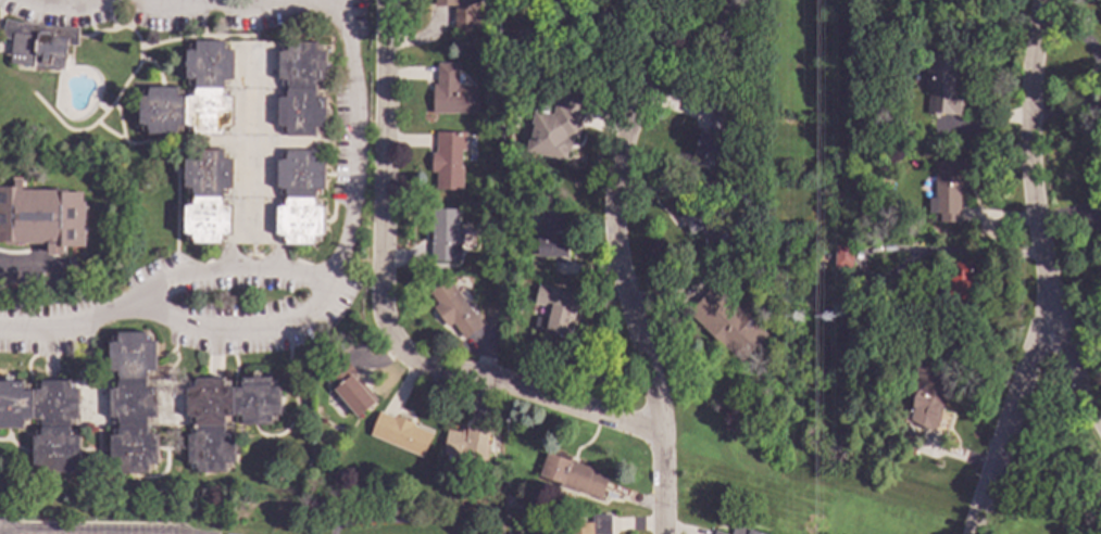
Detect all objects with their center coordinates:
road: (271, 2)
road: (66, 4)
building: (555, 9)
building: (462, 12)
building: (724, 23)
building: (524, 40)
building: (38, 44)
building: (940, 84)
building: (451, 92)
building: (552, 136)
building: (711, 140)
building: (248, 141)
building: (448, 161)
building: (734, 190)
building: (946, 191)
road: (1031, 213)
building: (695, 214)
building: (41, 218)
building: (549, 233)
building: (445, 236)
building: (842, 256)
road: (23, 262)
road: (621, 266)
road: (1071, 267)
road: (235, 269)
building: (776, 276)
building: (960, 282)
road: (308, 309)
building: (453, 309)
road: (386, 314)
building: (561, 315)
power tower: (798, 318)
power tower: (829, 318)
building: (726, 326)
building: (880, 363)
building: (349, 387)
building: (929, 397)
building: (177, 409)
building: (43, 421)
road: (1009, 427)
building: (400, 434)
building: (465, 446)
building: (572, 476)
building: (590, 526)
road: (3, 530)
parking lot: (99, 530)
building: (740, 531)
building: (515, 532)
building: (717, 533)

